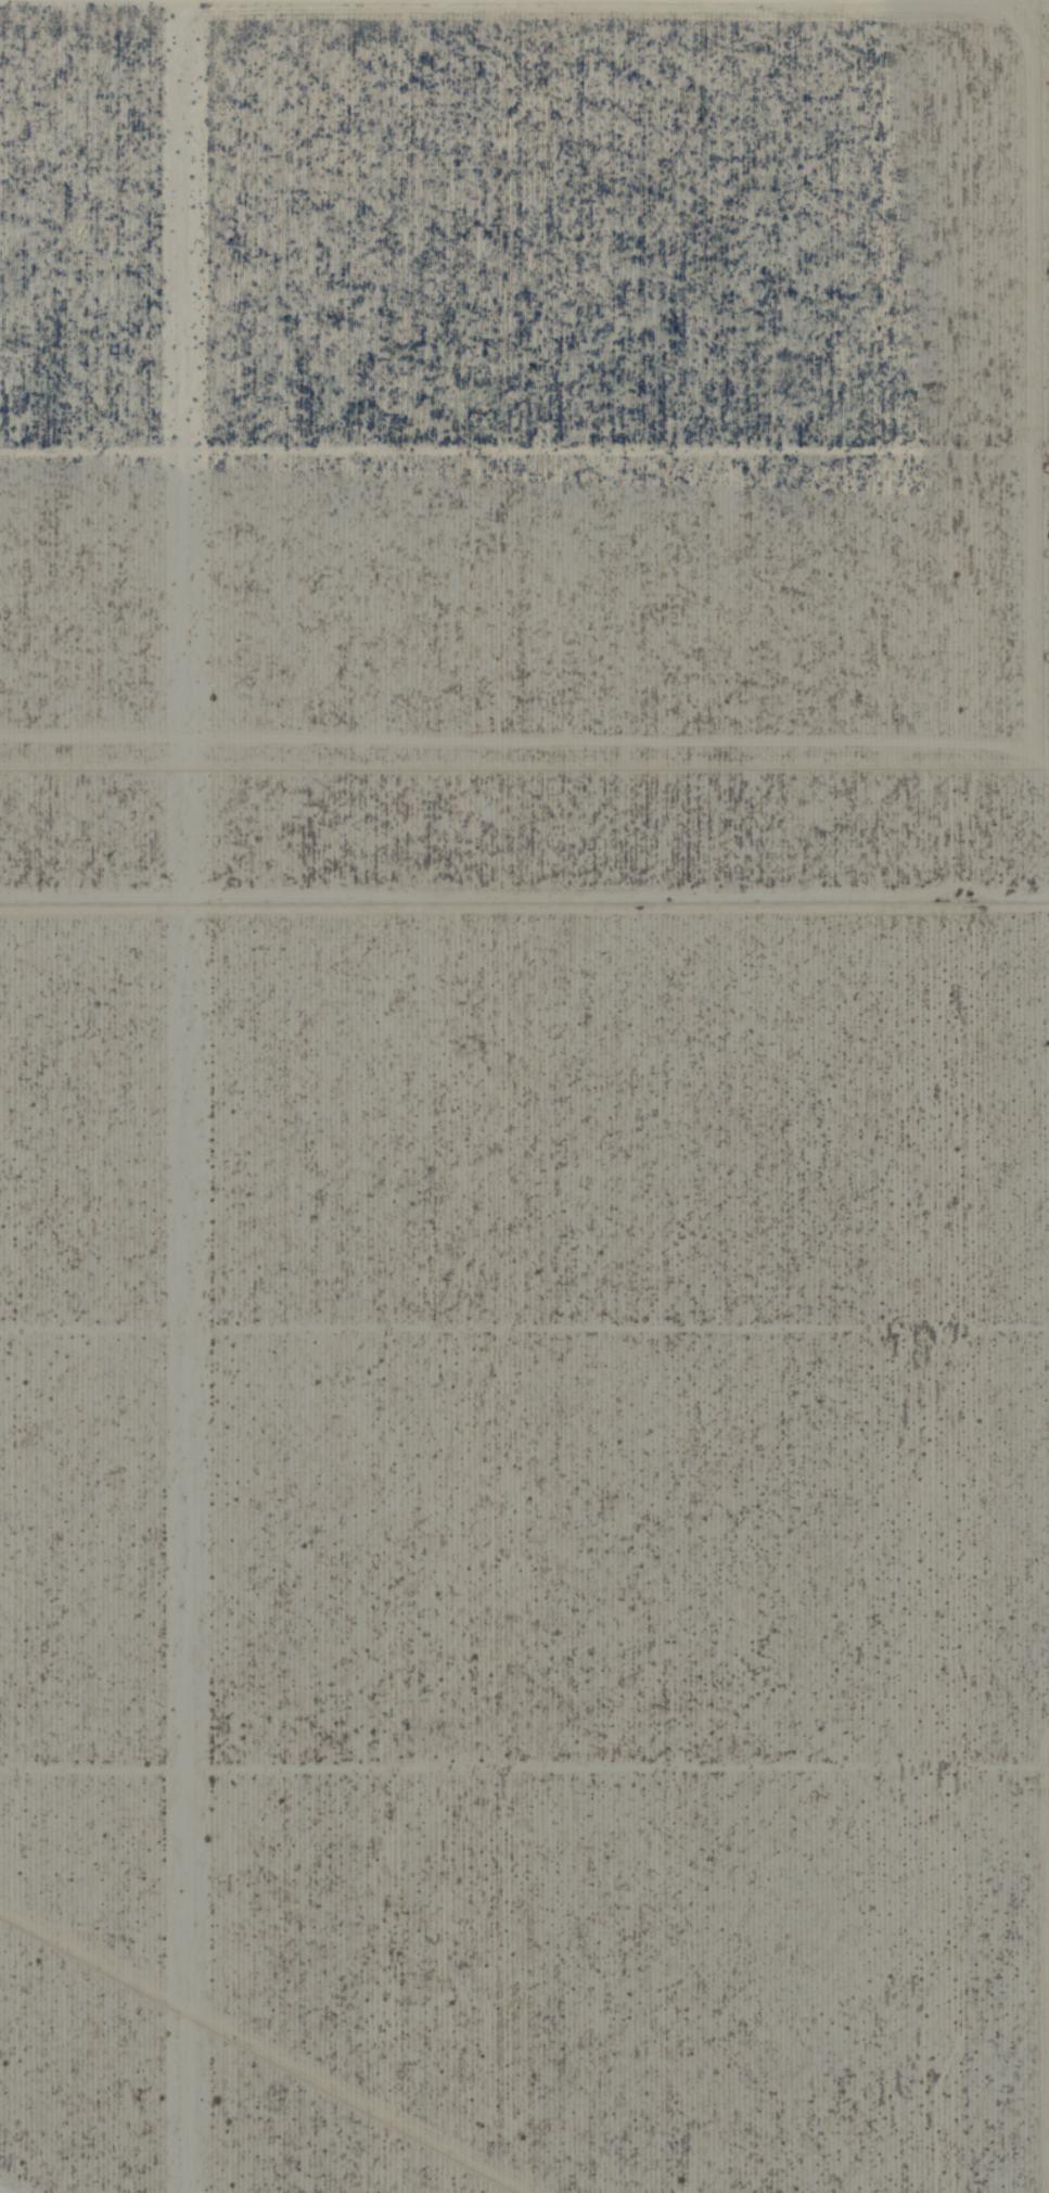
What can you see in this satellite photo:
crop: (524, 1096)

